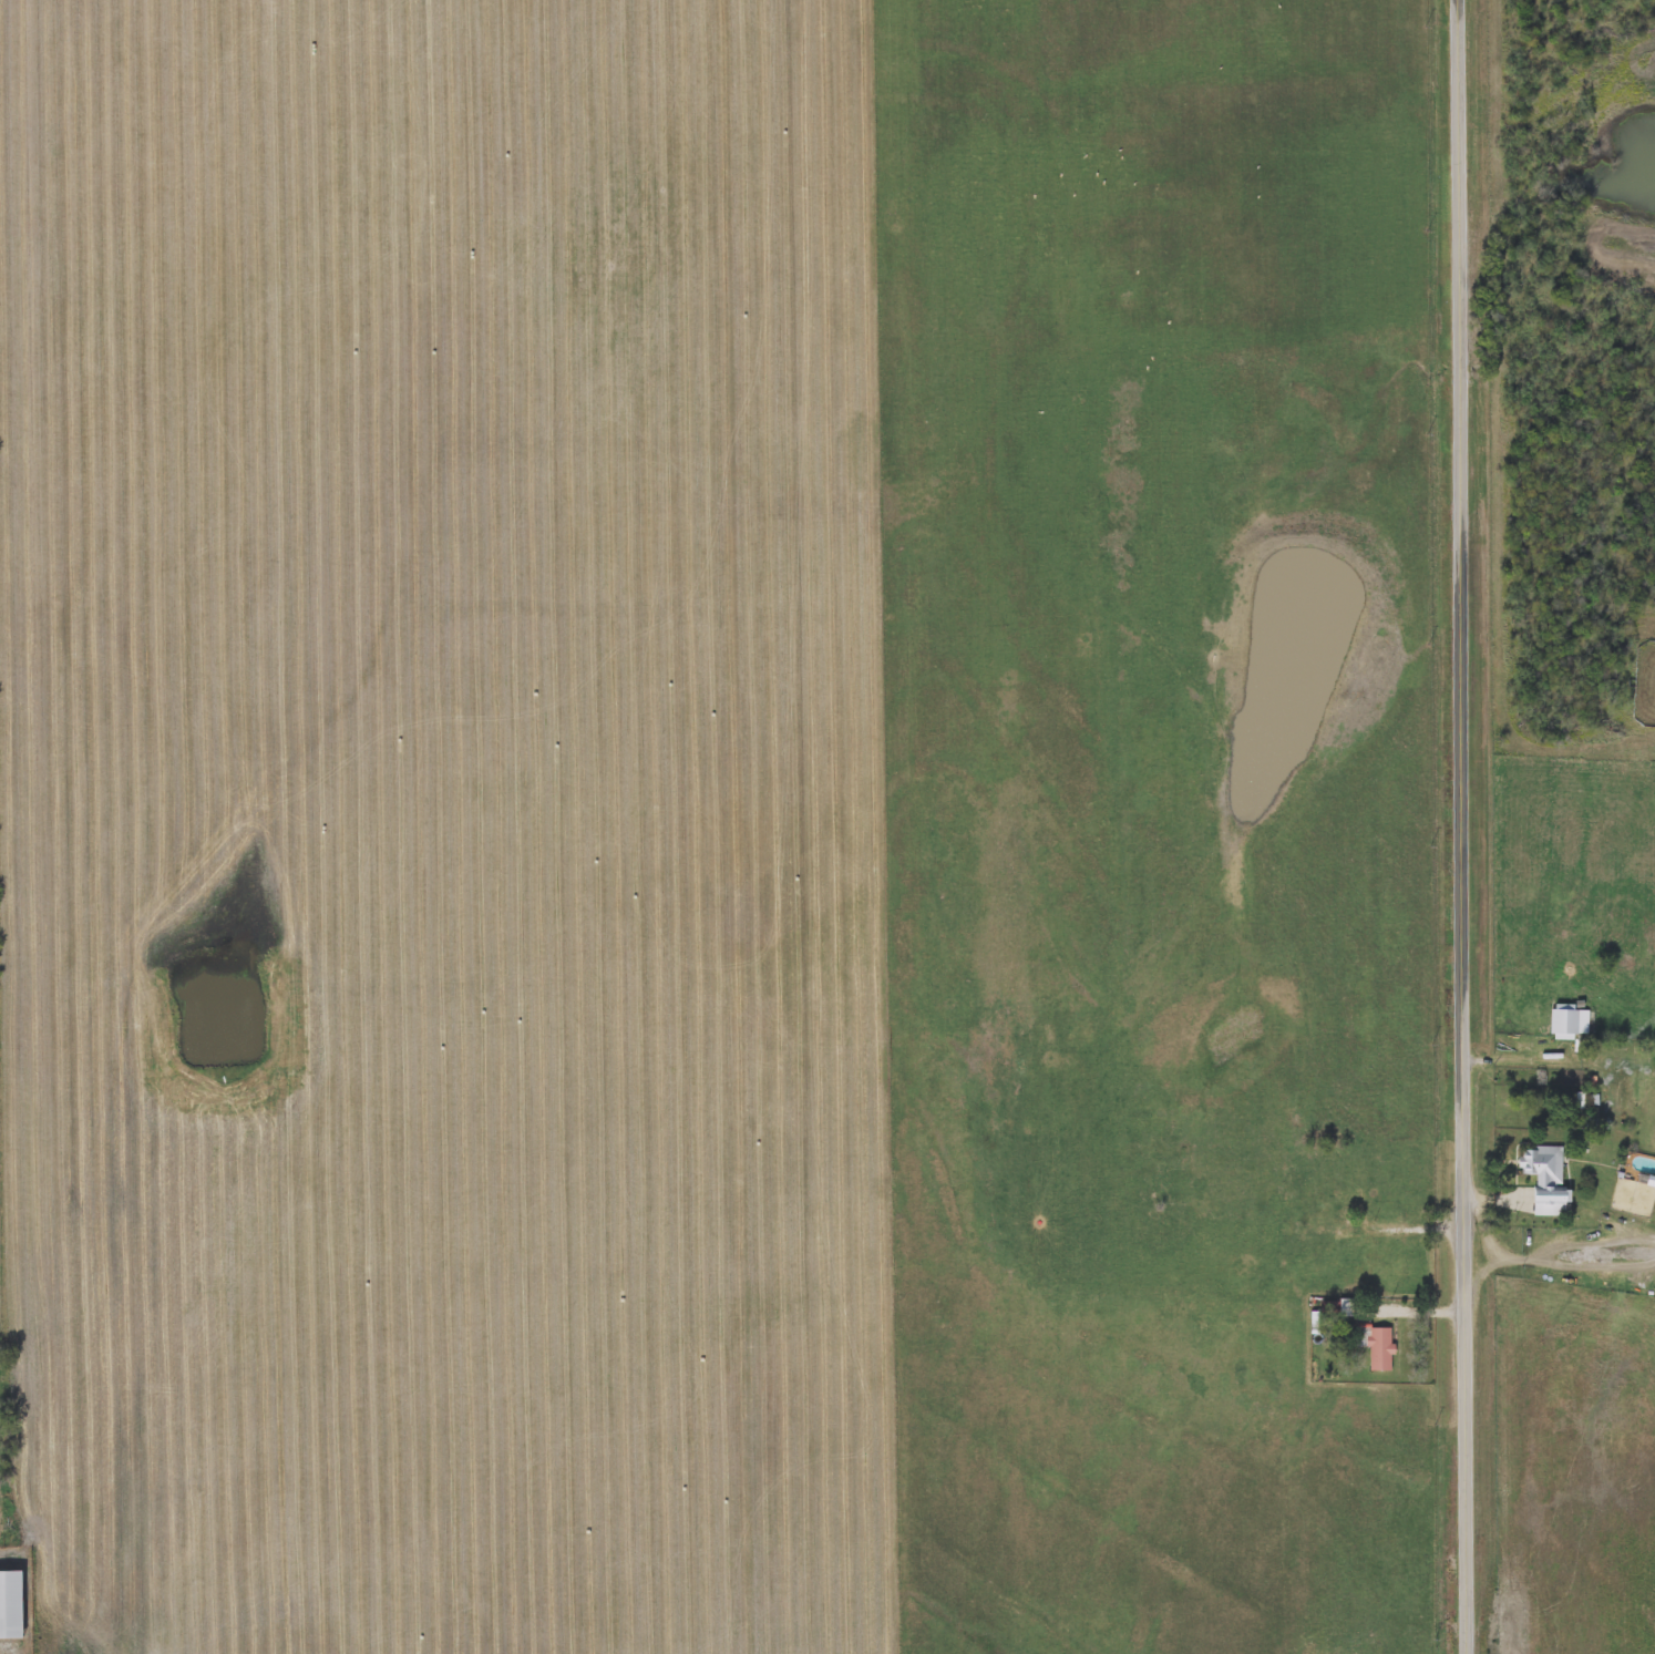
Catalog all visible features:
building: (1636, 751)
road: (1464, 826)
building: (1544, 1172)
building: (1354, 1183)
road: (1407, 1226)
building: (1315, 1234)
road: (1376, 1315)
building: (1379, 1348)
building: (10, 1604)

